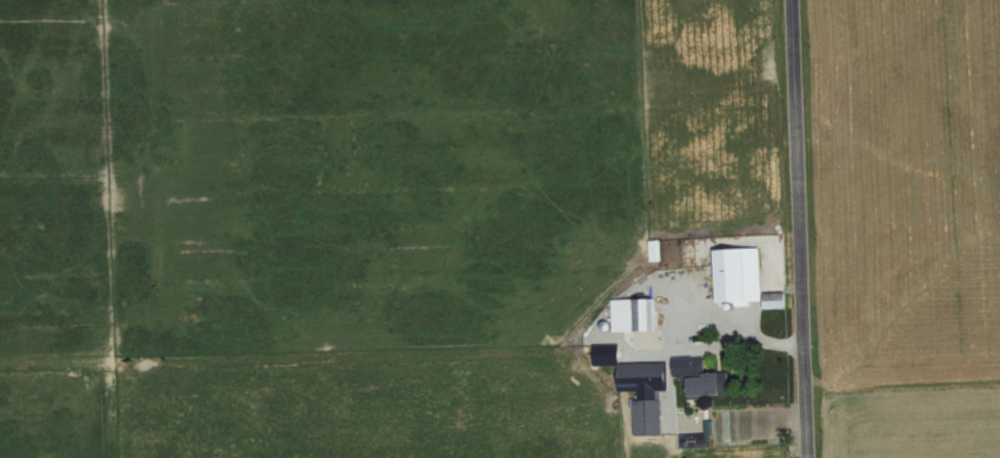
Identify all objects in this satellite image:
road: (803, 228)
building: (656, 249)
building: (740, 275)
building: (635, 314)
road: (736, 326)
building: (608, 354)
building: (703, 375)
building: (648, 392)

